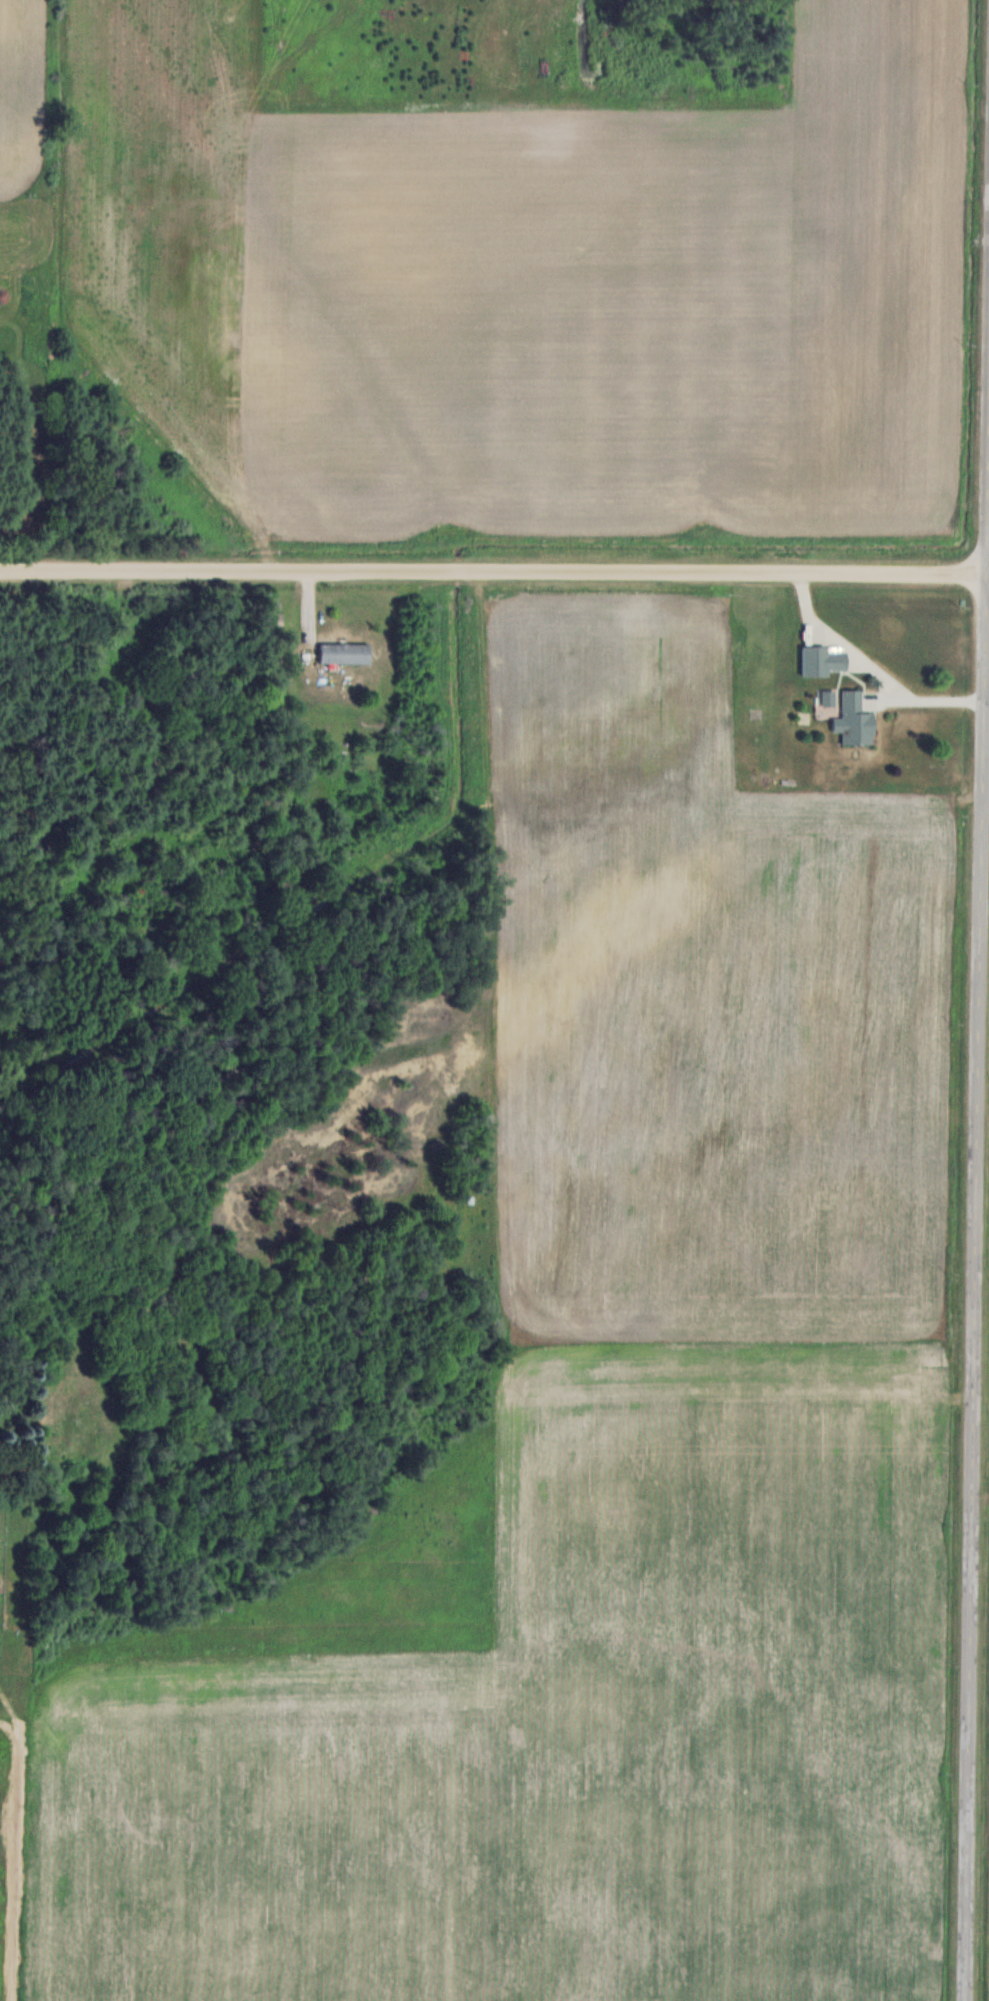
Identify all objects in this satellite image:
road: (494, 570)
building: (345, 652)
building: (822, 660)
road: (868, 667)
building: (855, 720)
road: (981, 1229)

